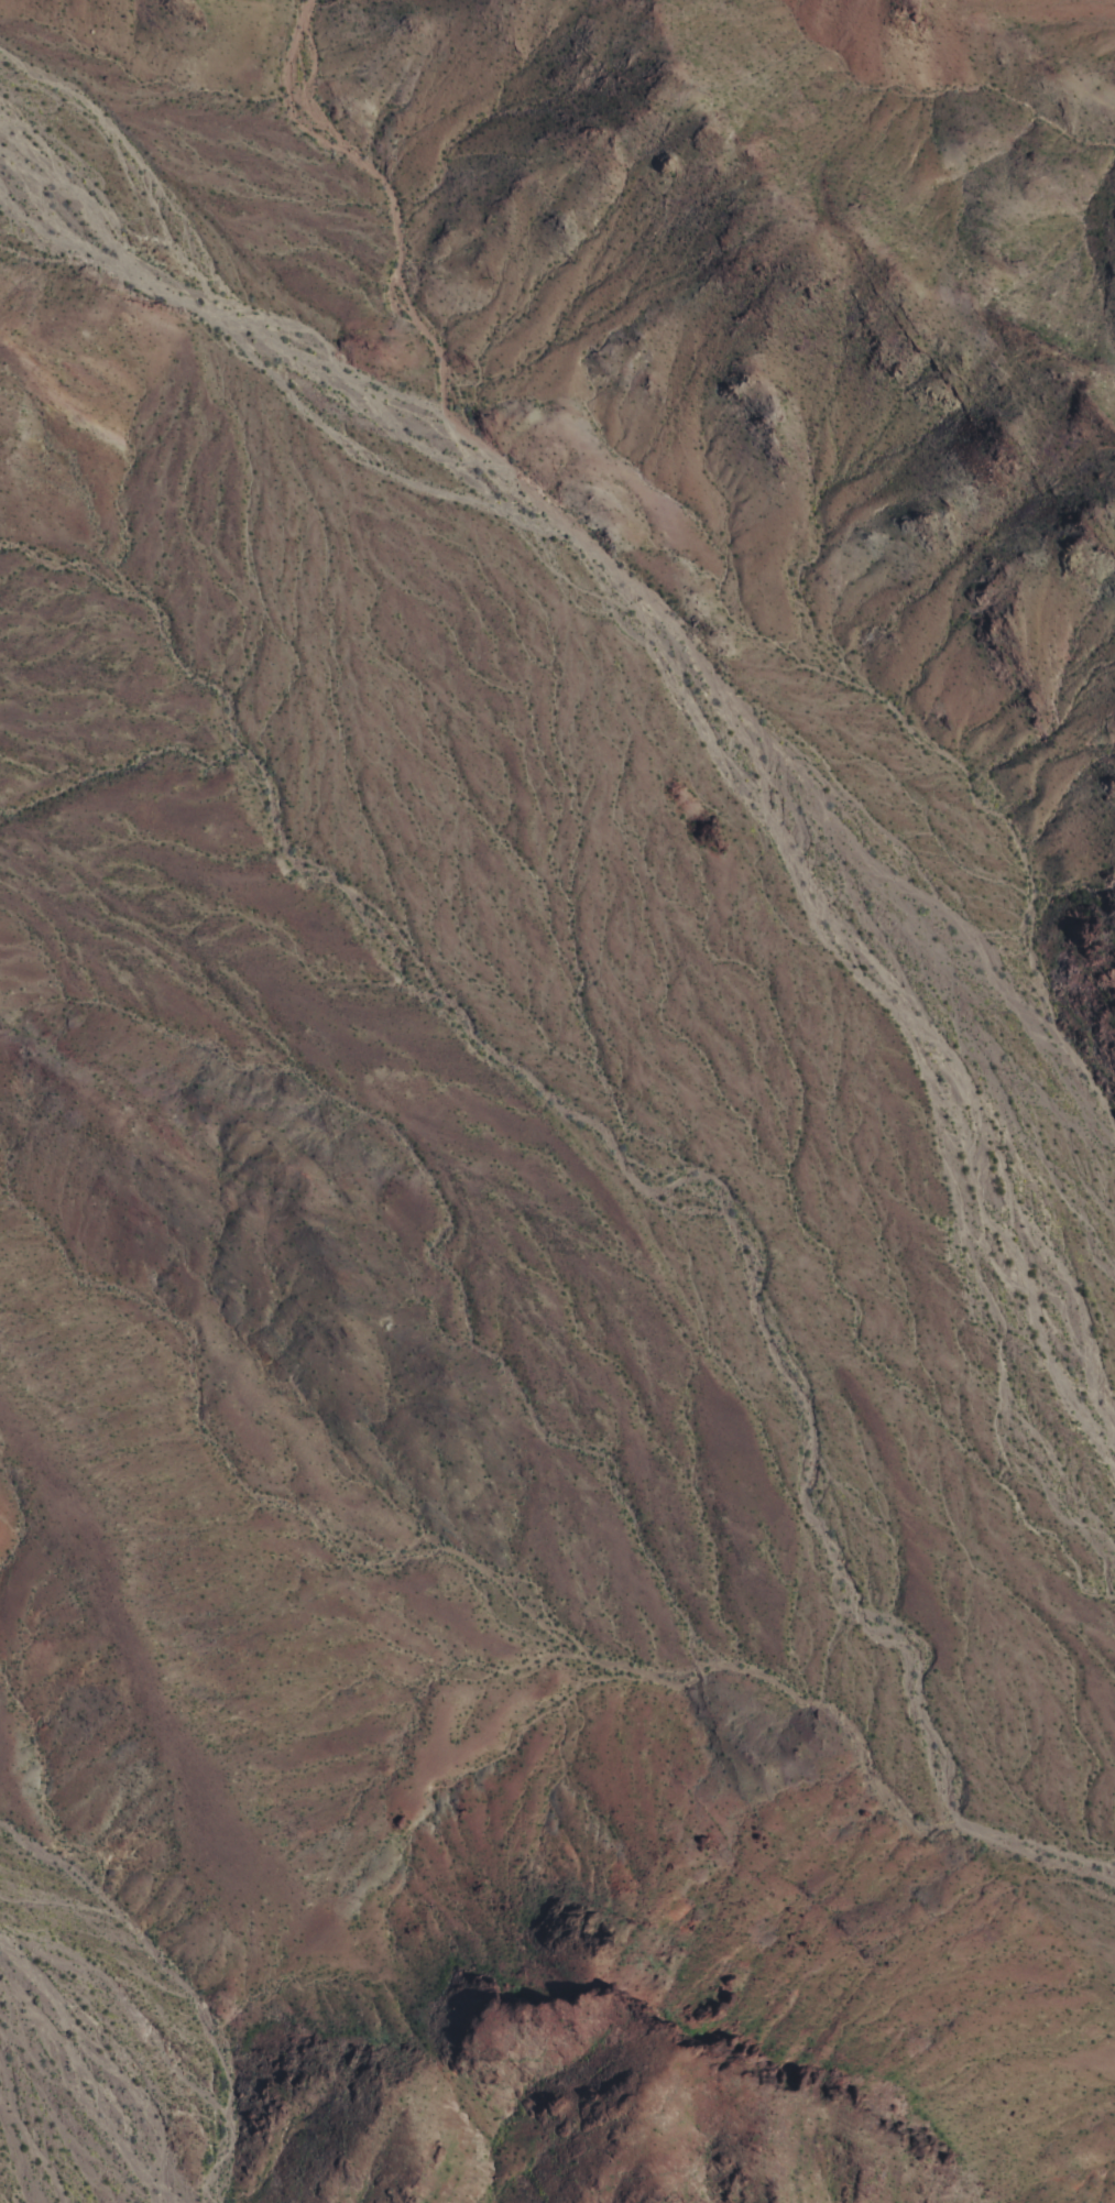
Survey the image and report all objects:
road: (7, 2075)

